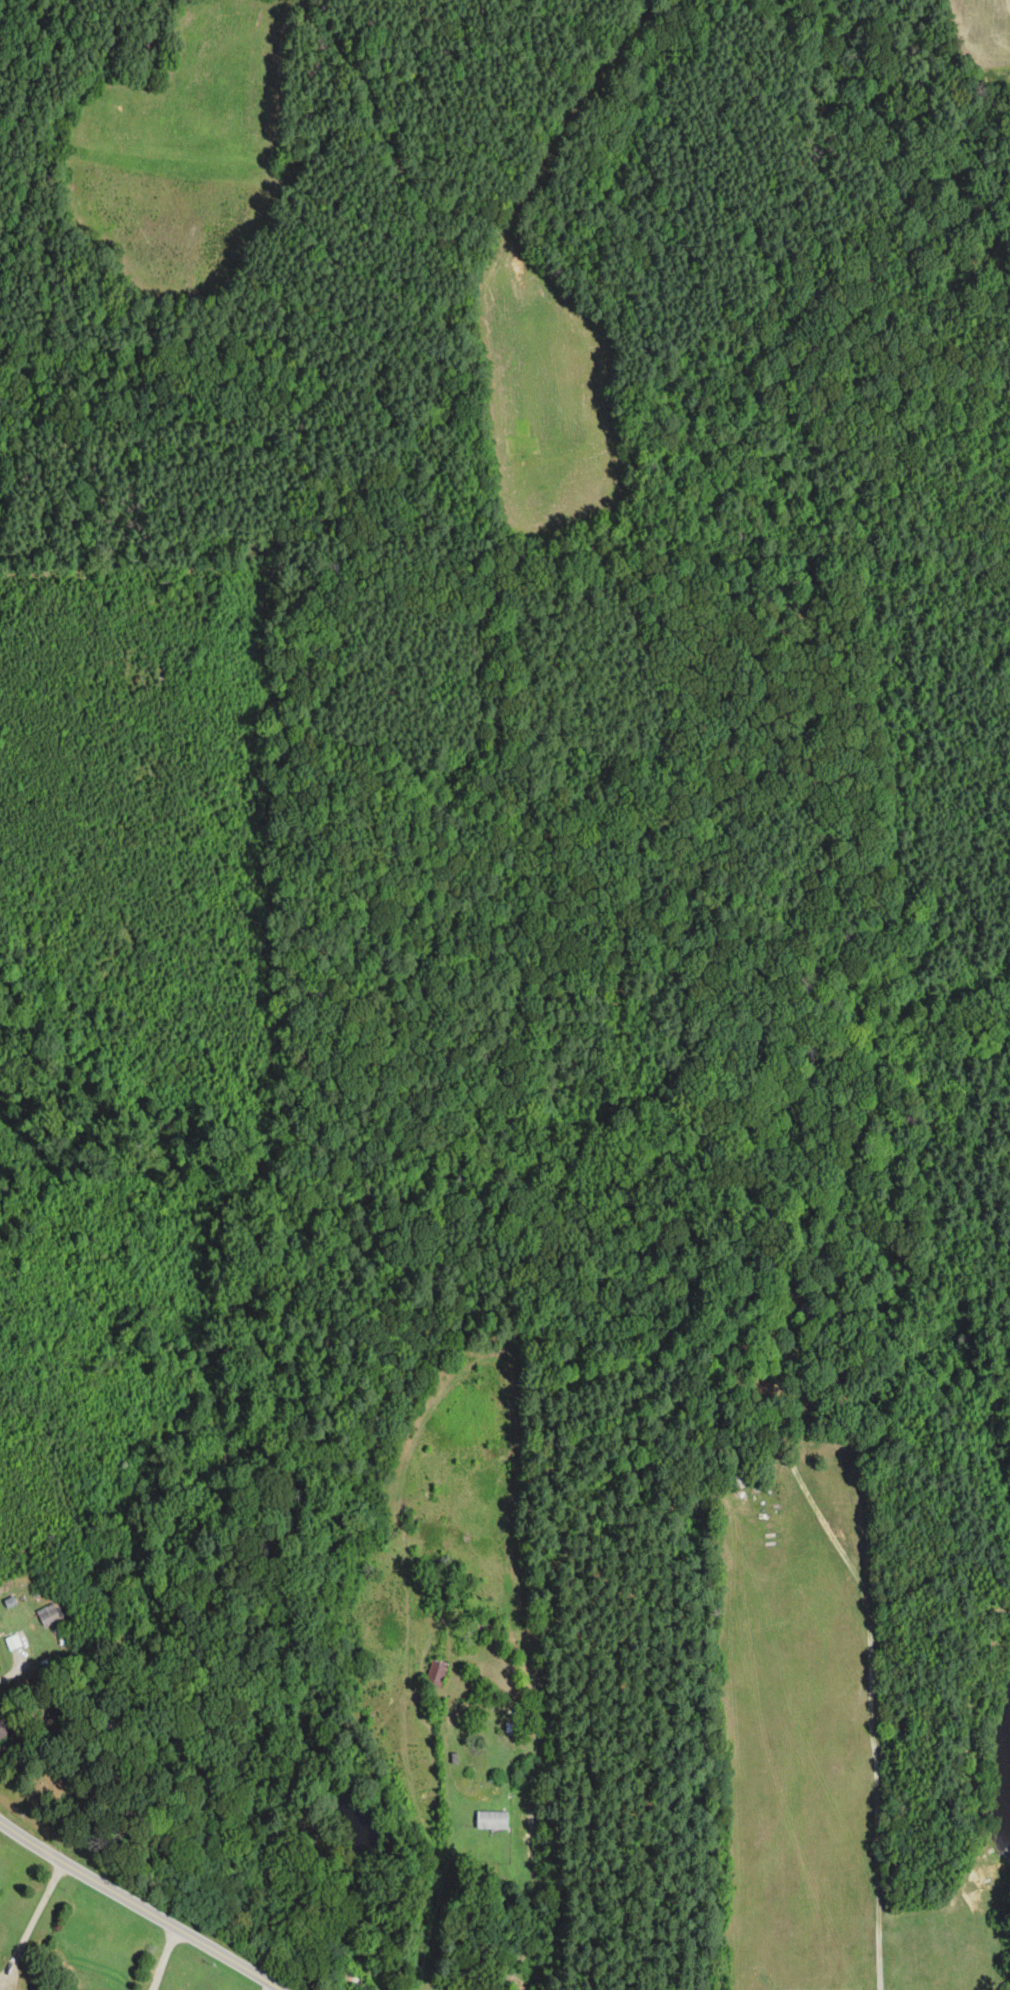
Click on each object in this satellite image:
building: (804, 1315)
building: (48, 1615)
road: (869, 1656)
road: (16, 1670)
building: (437, 1672)
building: (6, 1724)
building: (492, 1820)
road: (108, 1888)
road: (32, 1926)
road: (163, 1958)
road: (249, 1971)
building: (353, 1980)

